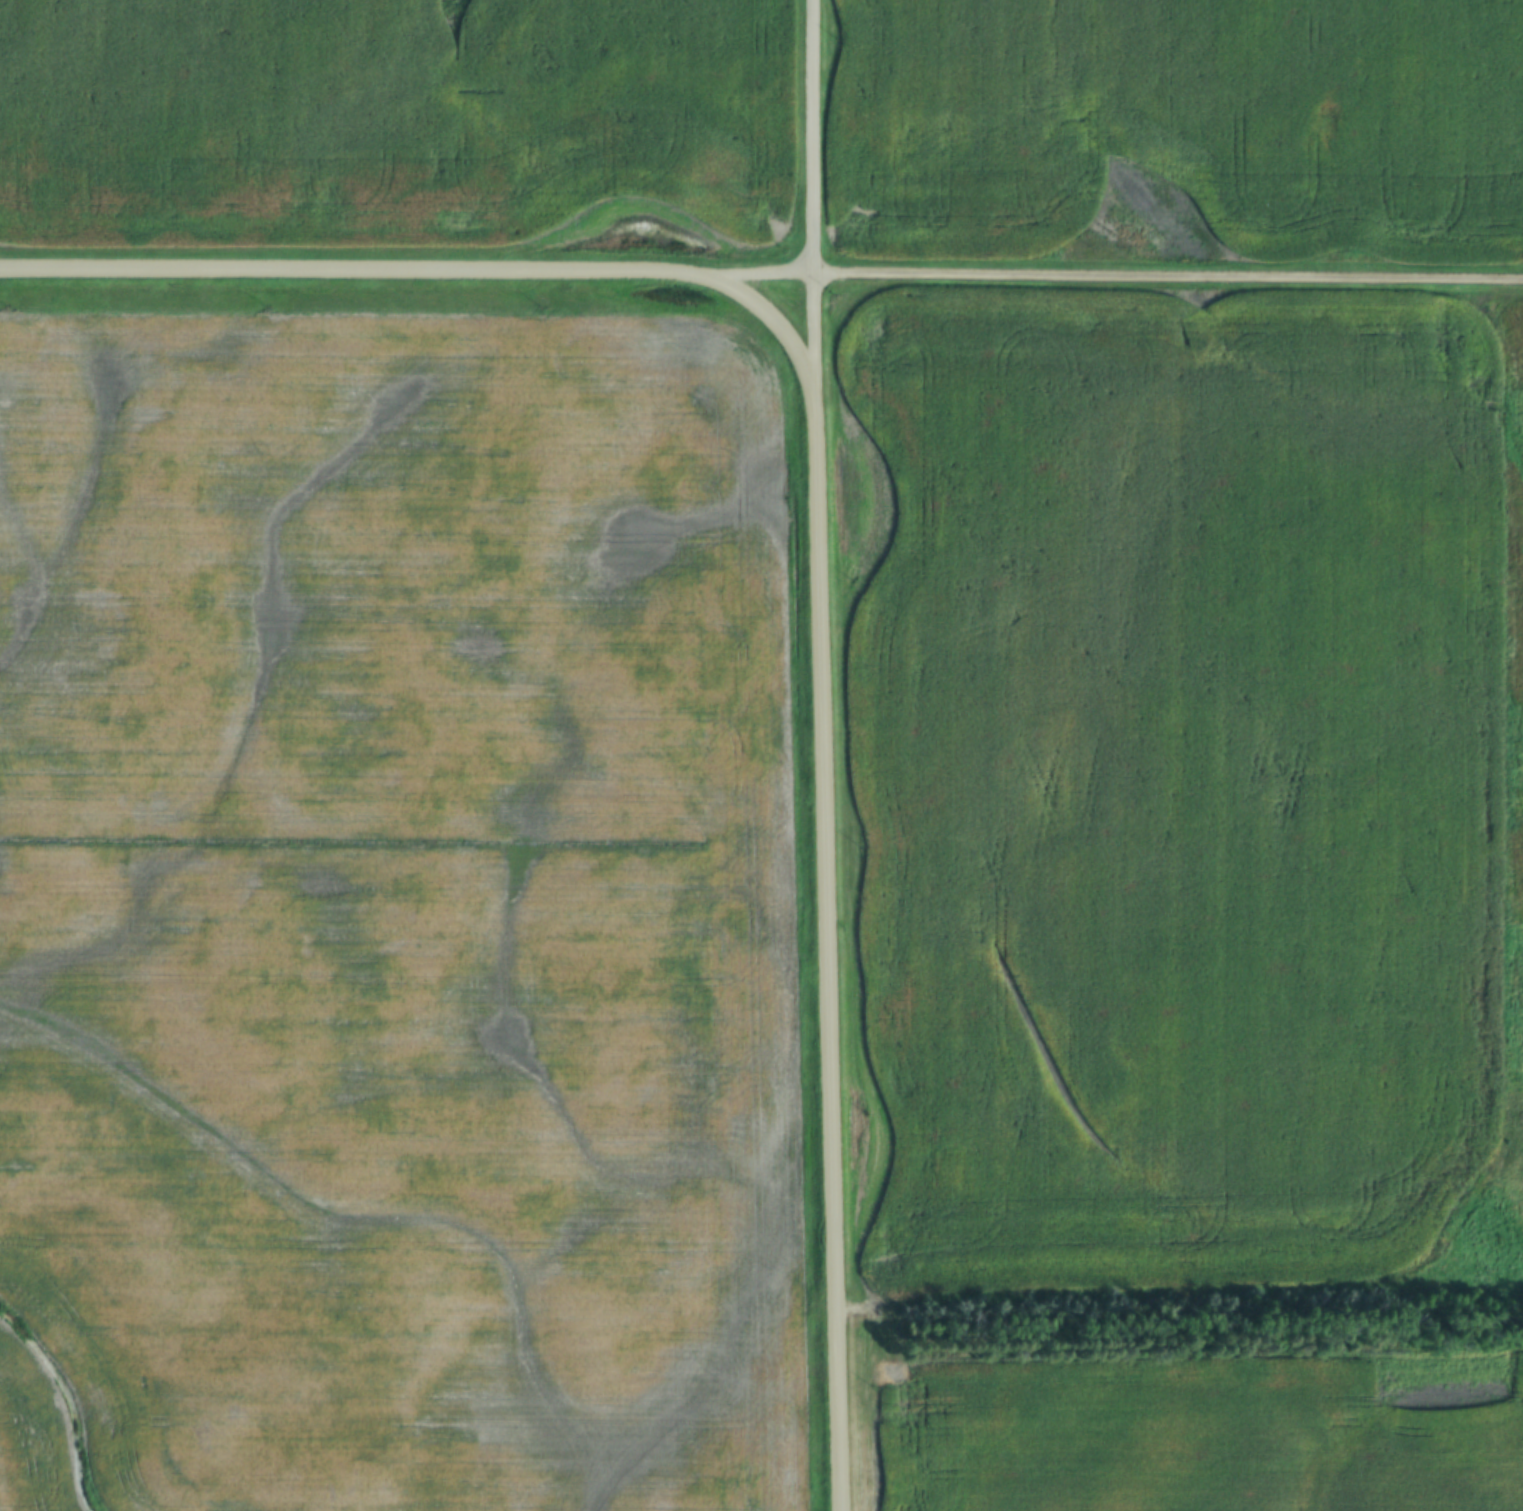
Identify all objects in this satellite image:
road: (815, 196)
road: (350, 273)
road: (757, 275)
road: (1169, 279)
road: (771, 320)
road: (830, 951)

